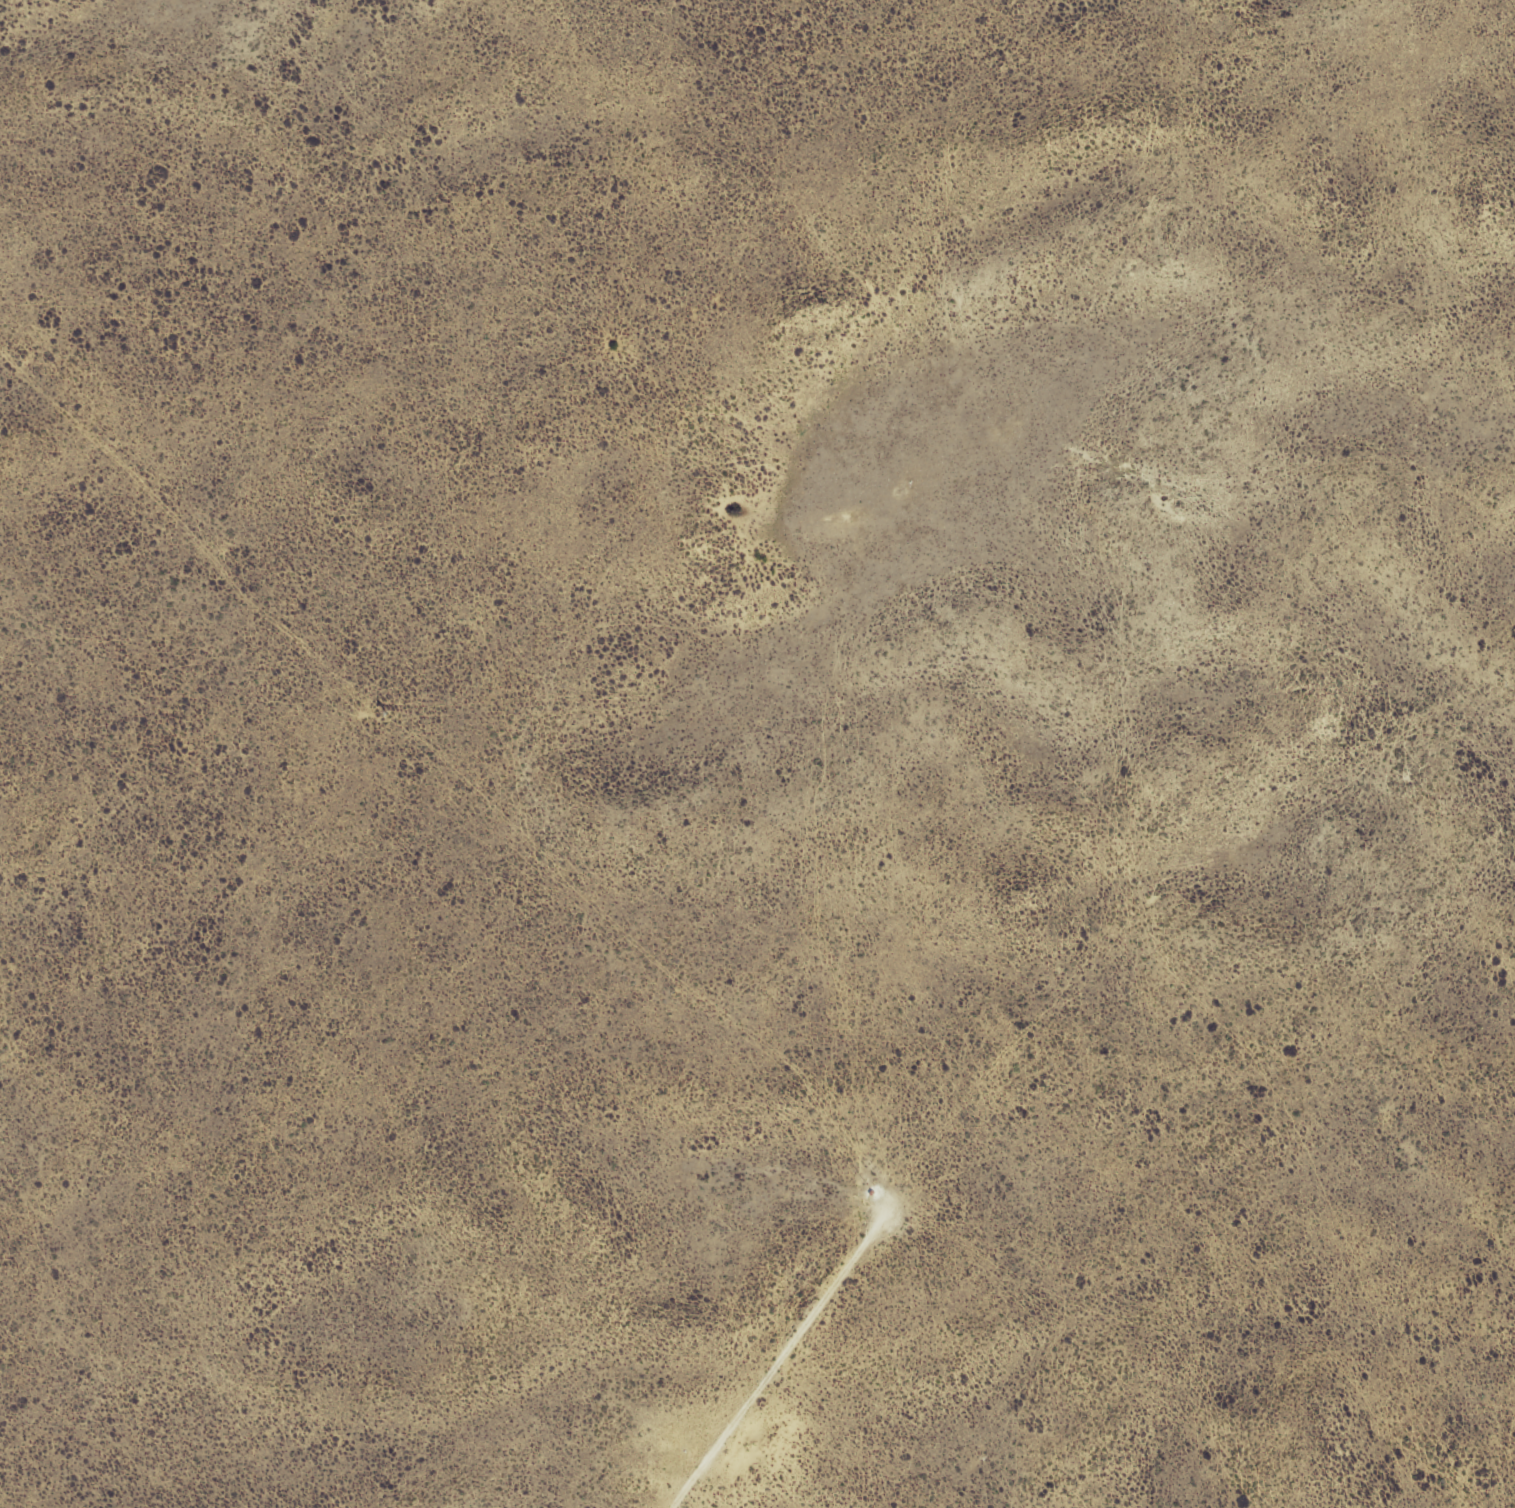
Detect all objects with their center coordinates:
road: (793, 1385)

